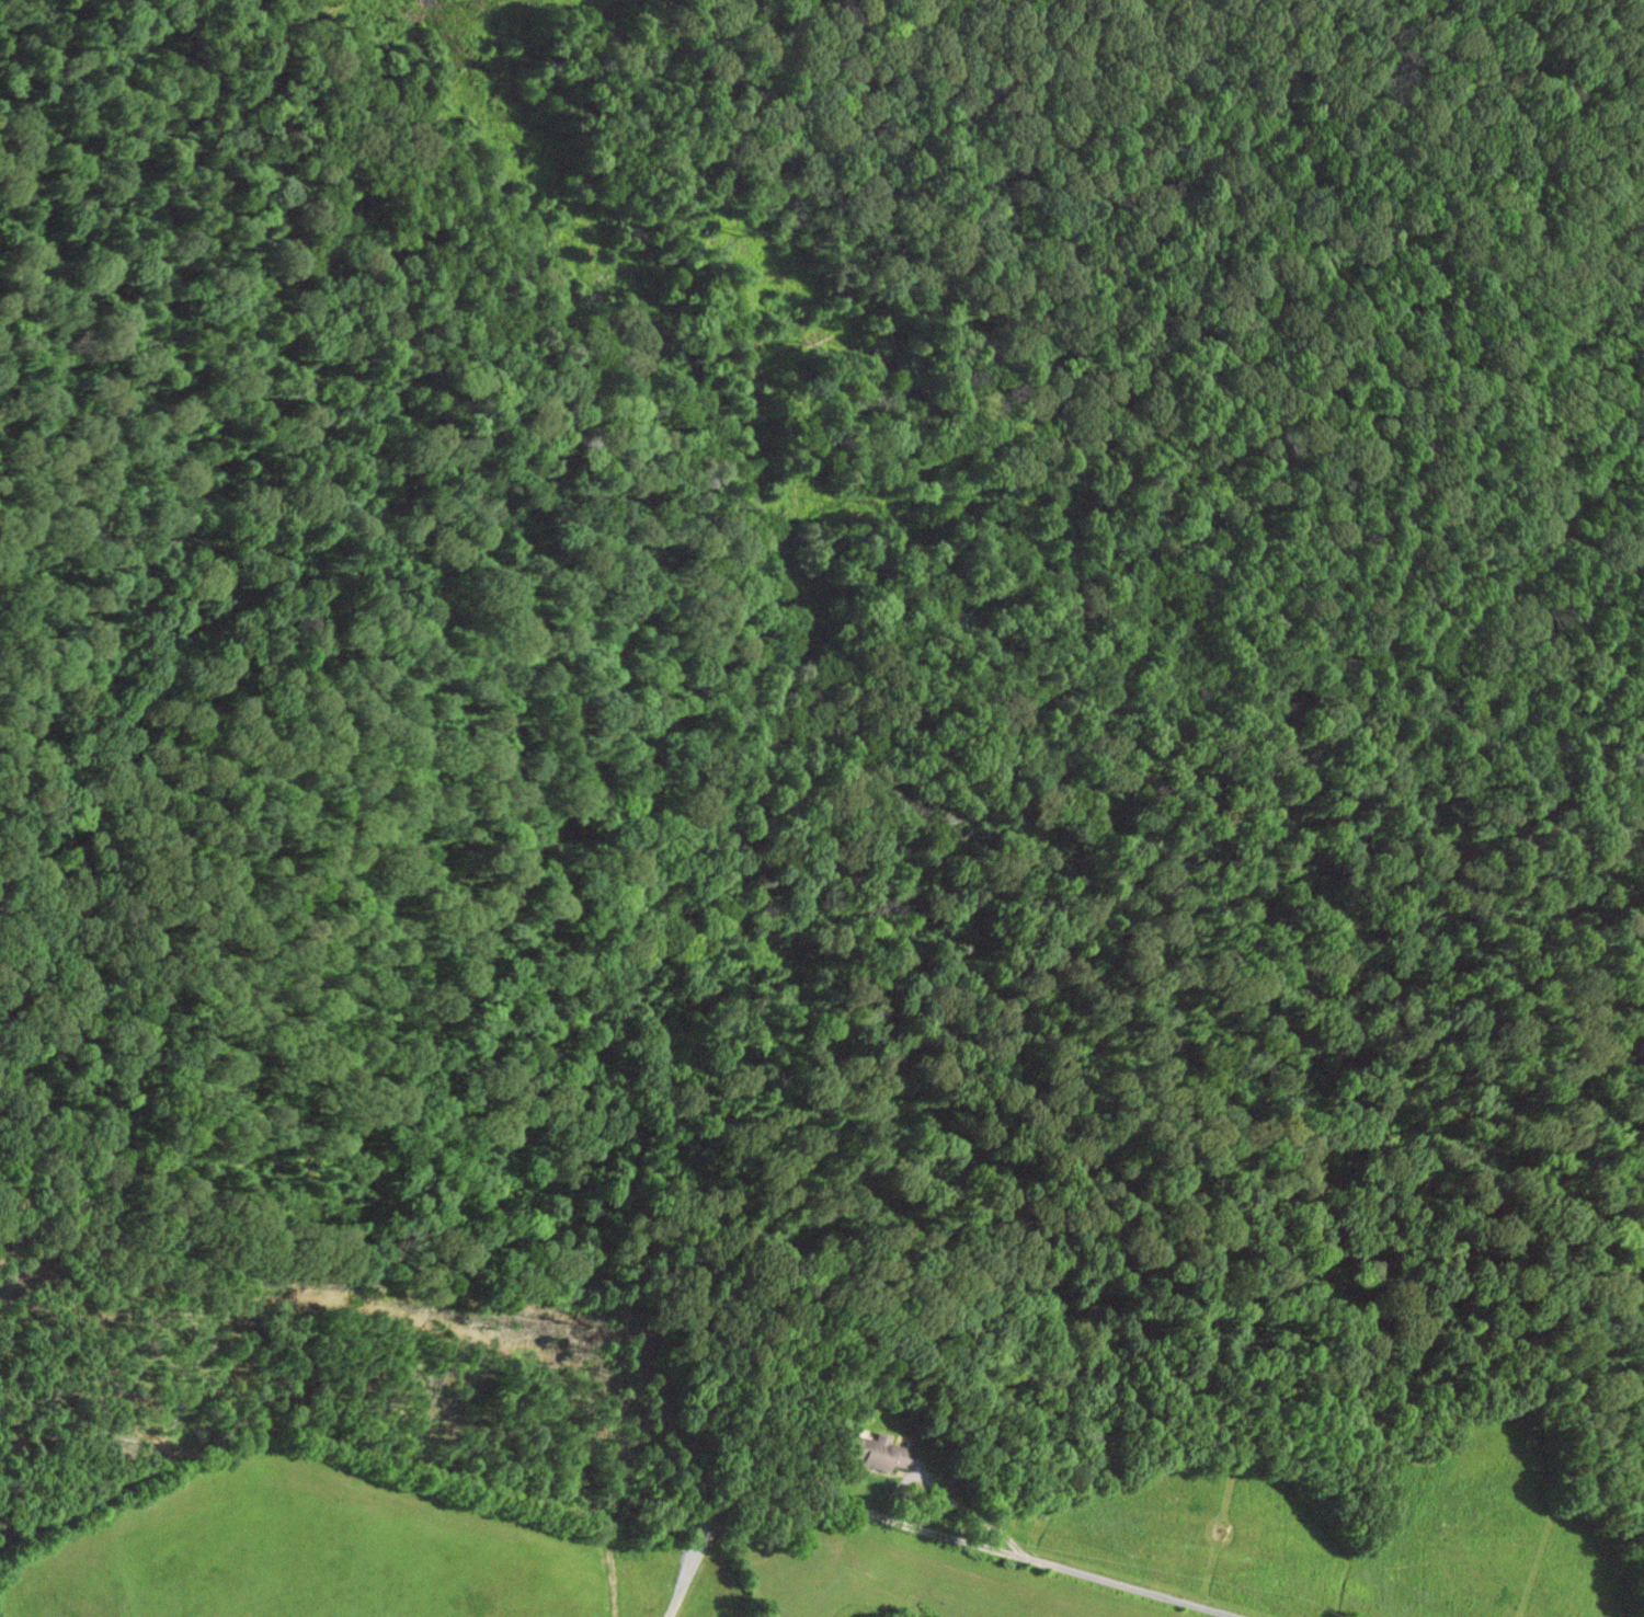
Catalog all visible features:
road: (798, 776)
building: (877, 1449)
road: (607, 1491)

